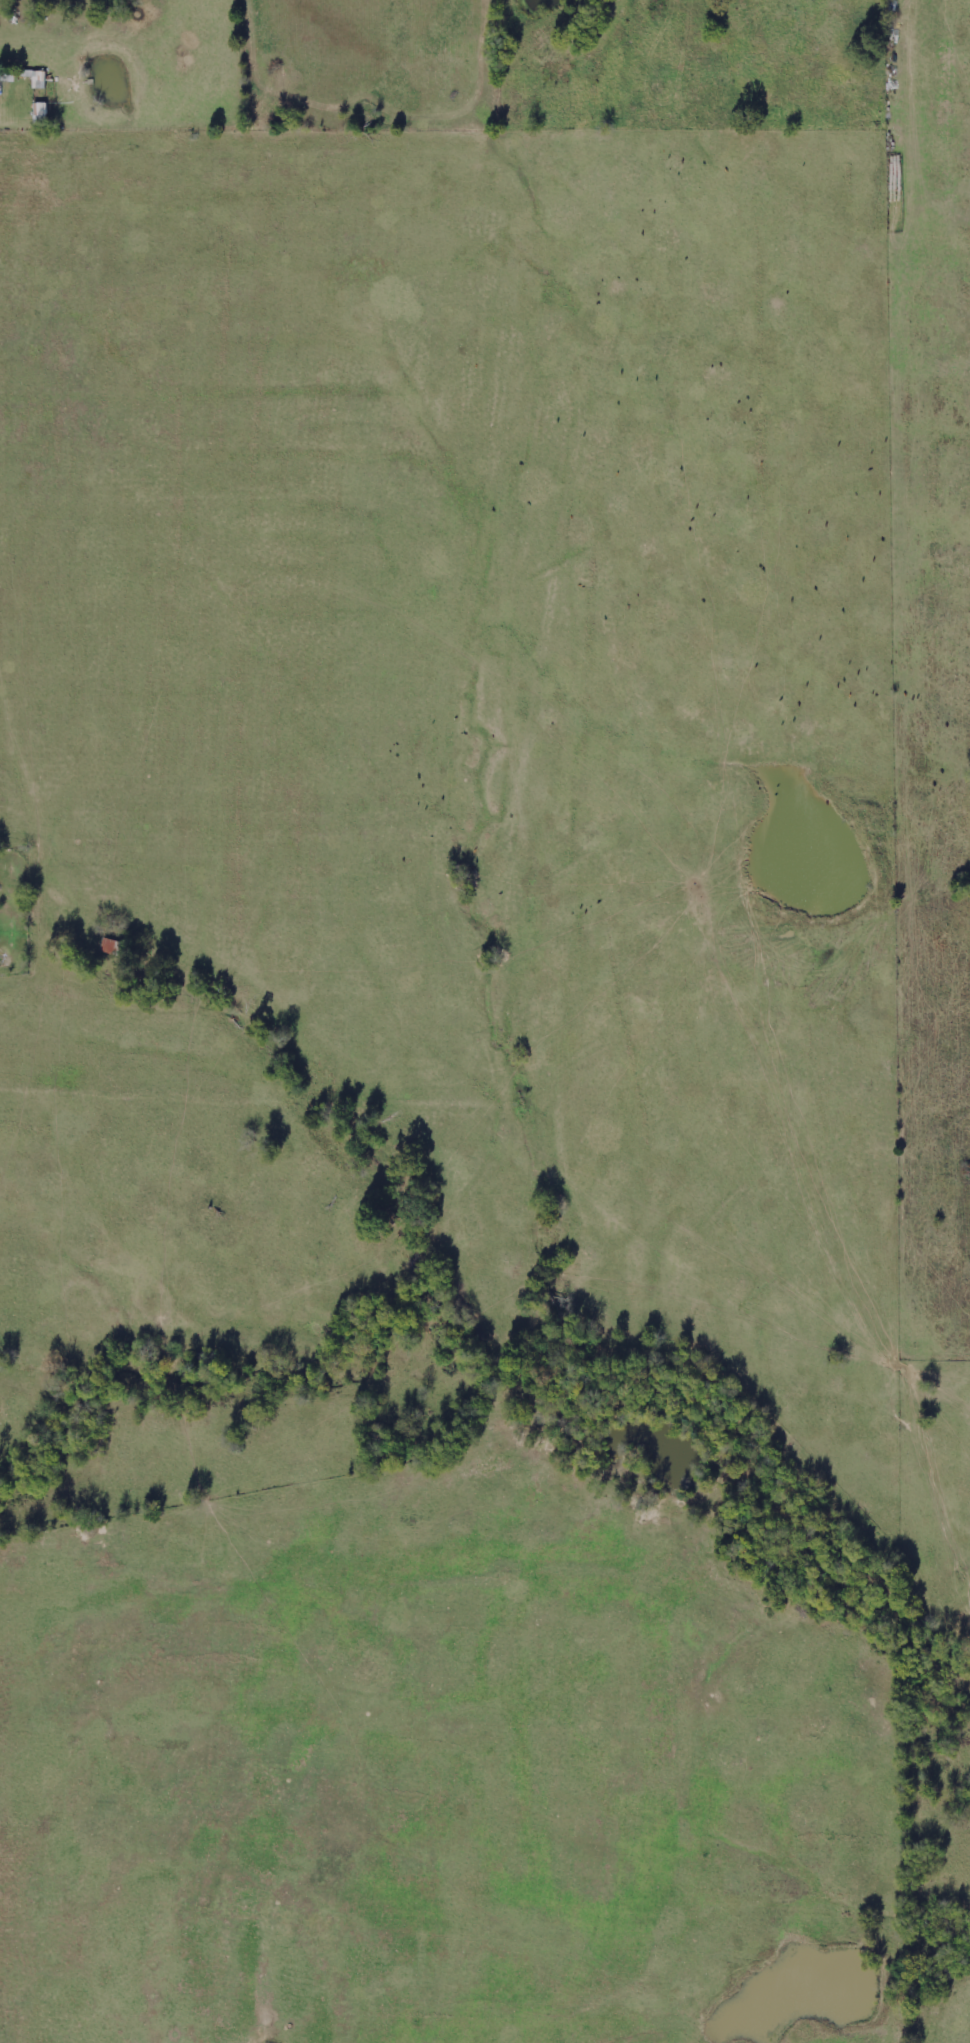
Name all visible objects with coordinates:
building: (40, 81)
building: (43, 114)
building: (113, 947)

